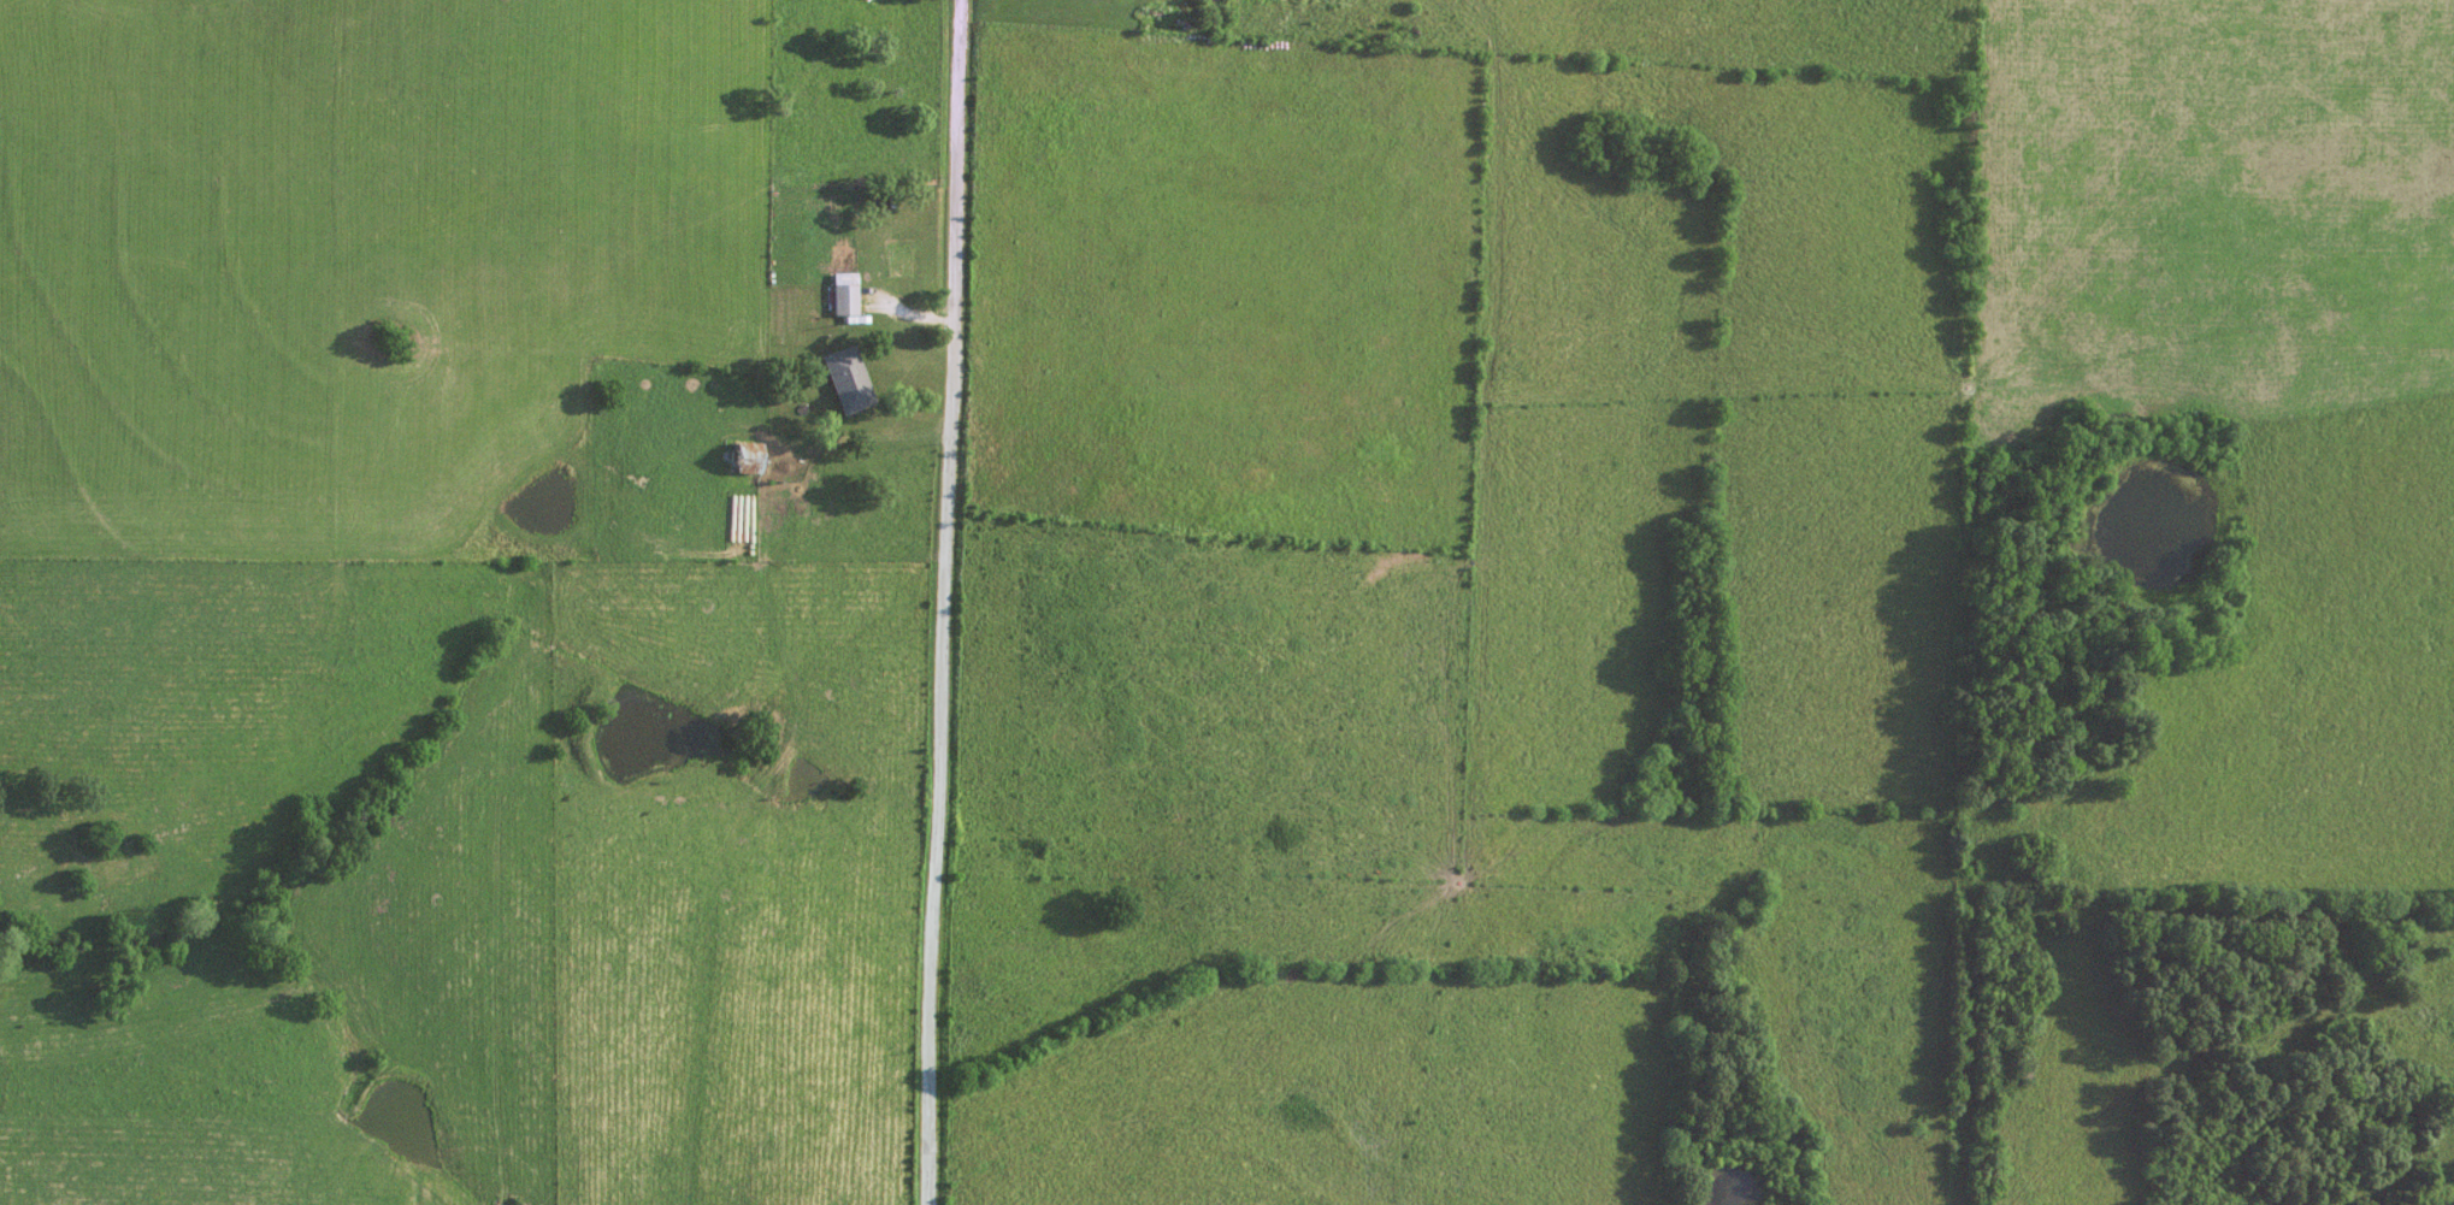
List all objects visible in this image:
building: (846, 294)
building: (850, 379)
building: (744, 457)
road: (946, 602)

